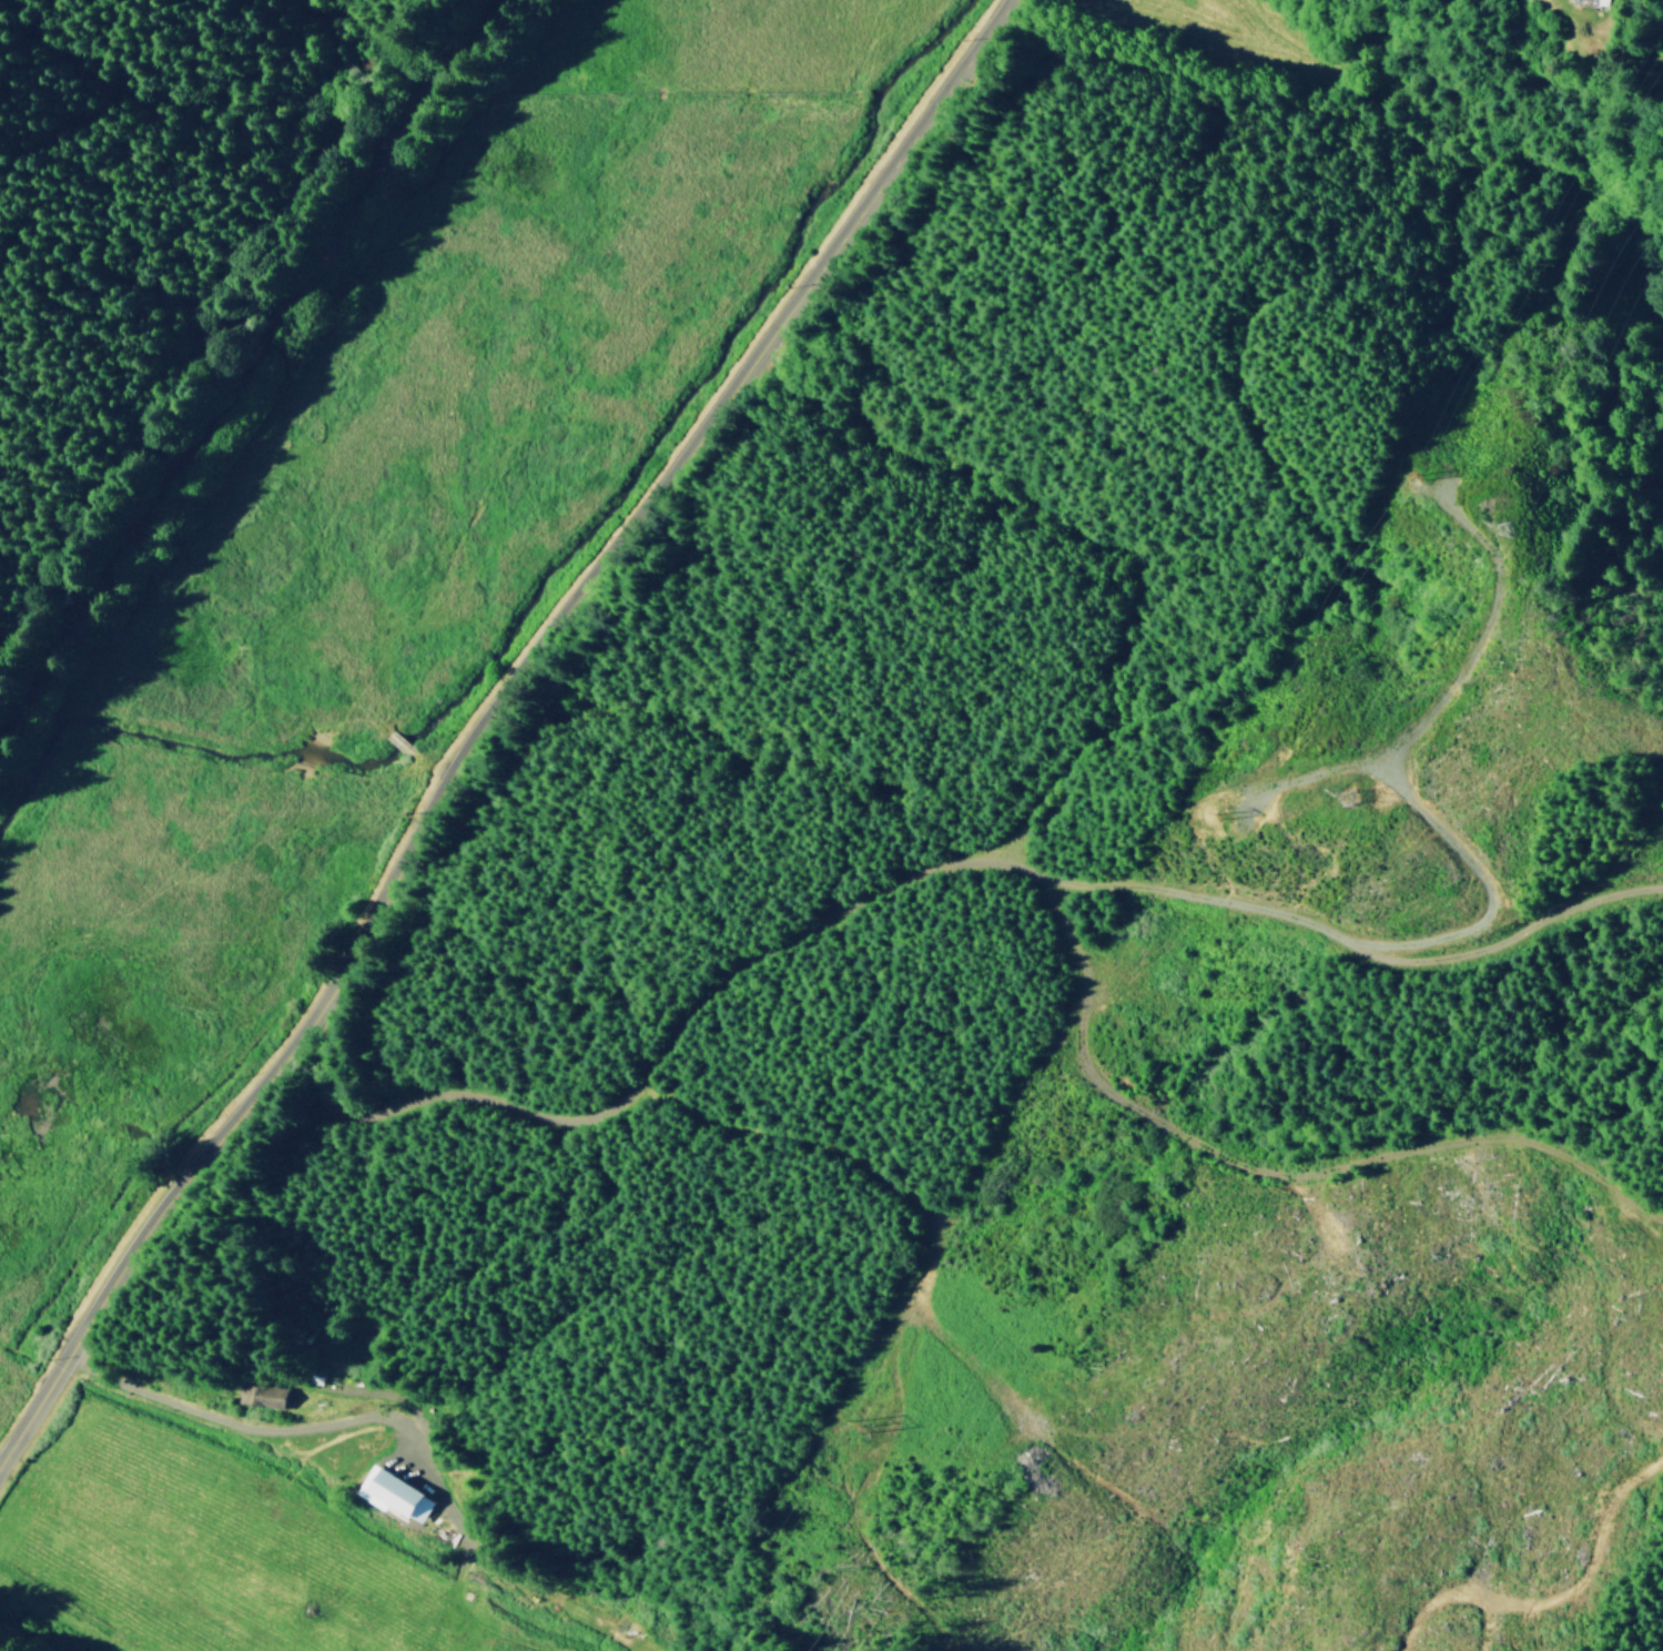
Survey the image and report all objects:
railway: (244, 369)
power tower: (1492, 527)
road: (494, 726)
power tower: (1334, 798)
power tower: (1221, 811)
building: (262, 1395)
power tower: (868, 1424)
building: (395, 1493)

